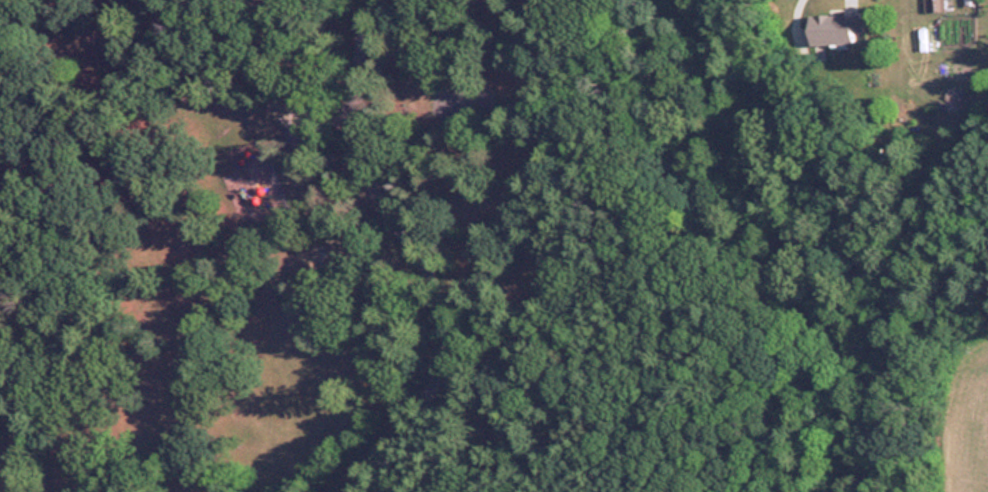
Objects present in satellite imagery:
building: (935, 5)
building: (835, 28)
road: (415, 251)
park: (446, 255)

